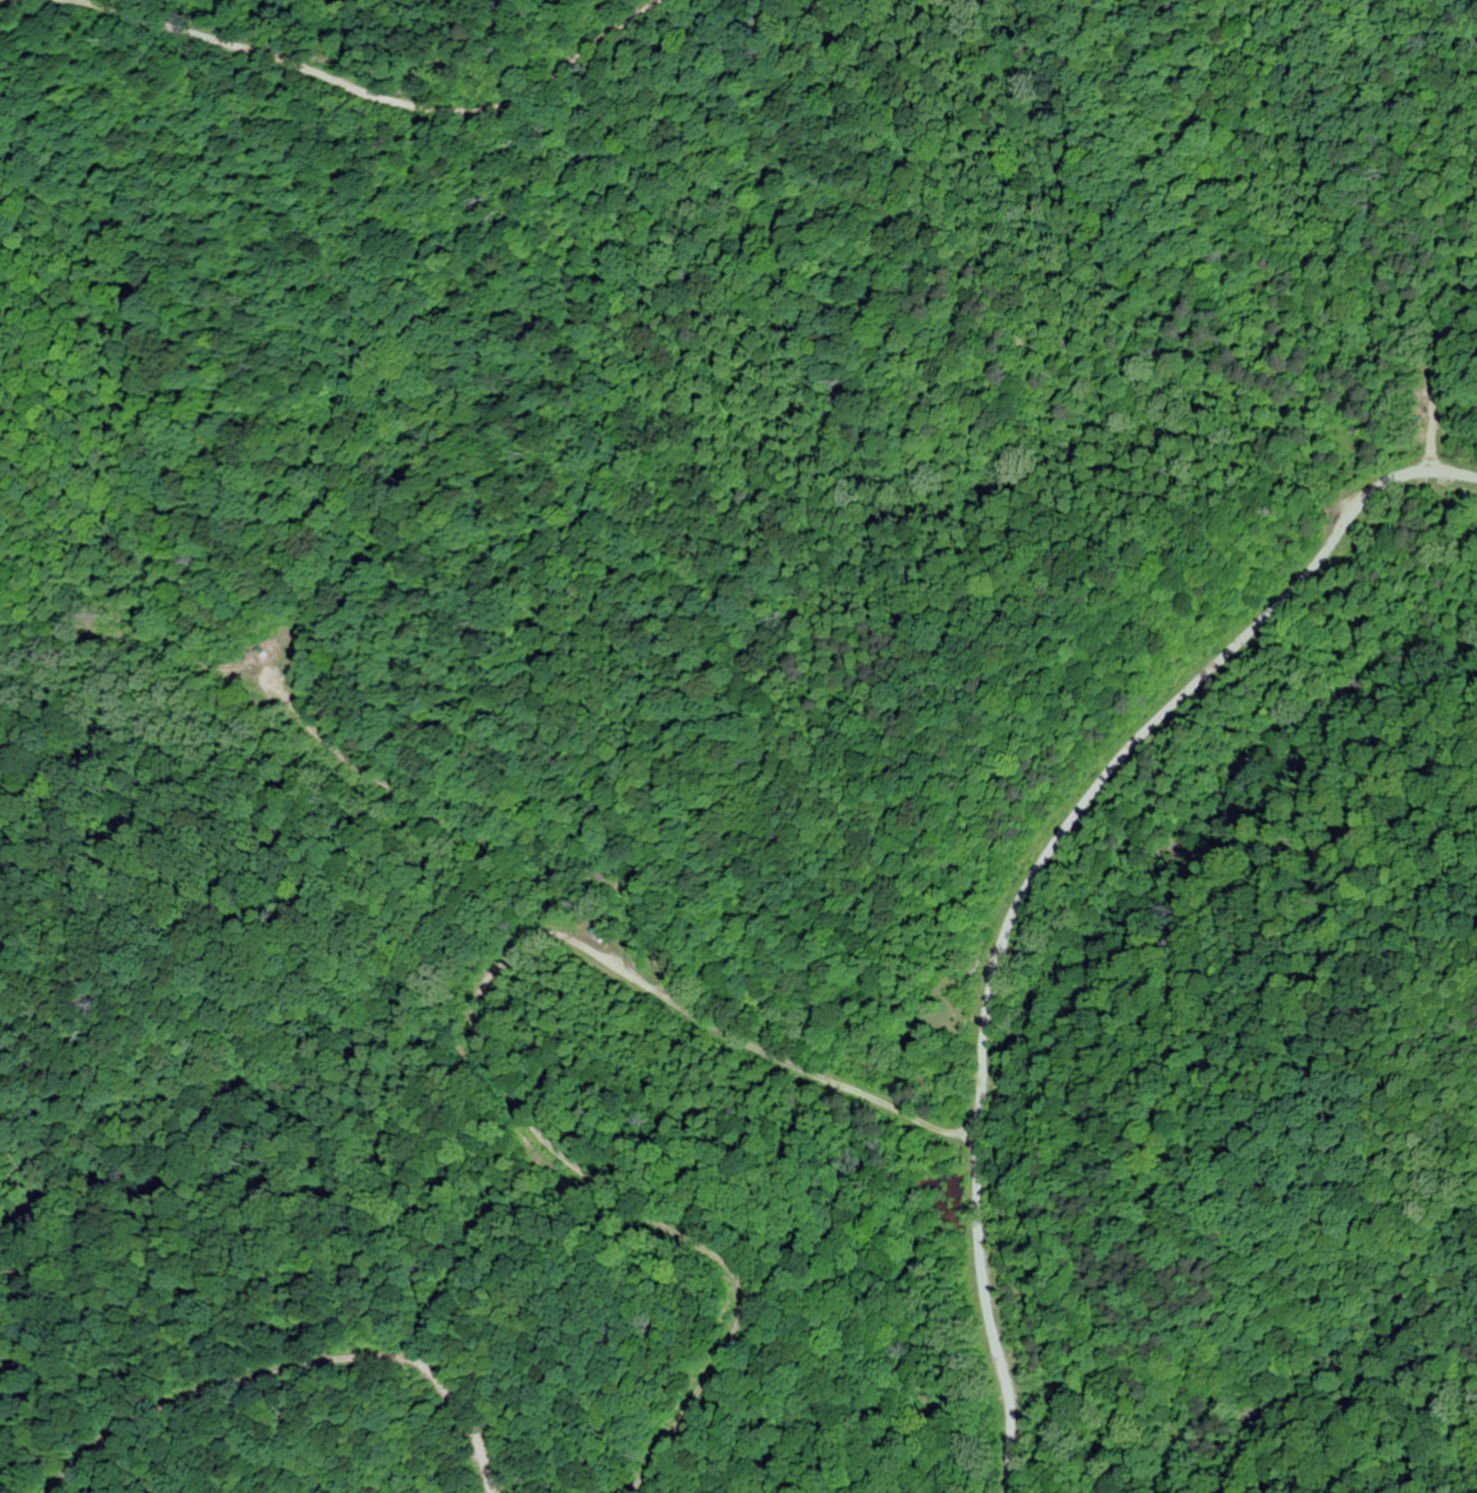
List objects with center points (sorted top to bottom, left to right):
road: (340, 95)

